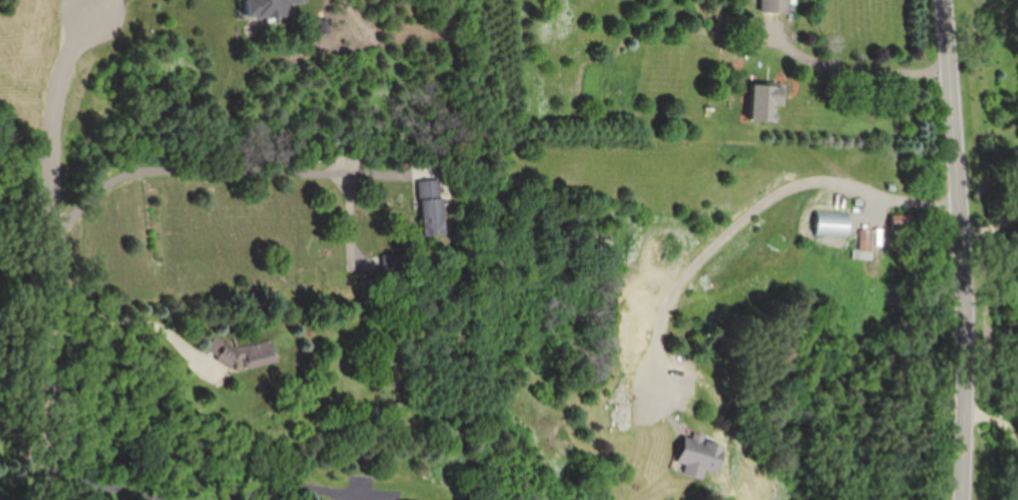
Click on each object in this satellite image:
road: (92, 1)
building: (777, 6)
road: (843, 79)
building: (766, 101)
road: (210, 165)
building: (433, 207)
building: (832, 224)
road: (49, 233)
road: (731, 243)
building: (866, 245)
road: (962, 249)
building: (393, 265)
road: (132, 320)
building: (246, 356)
road: (993, 422)
building: (701, 455)
road: (46, 486)
road: (106, 486)
road: (304, 486)

